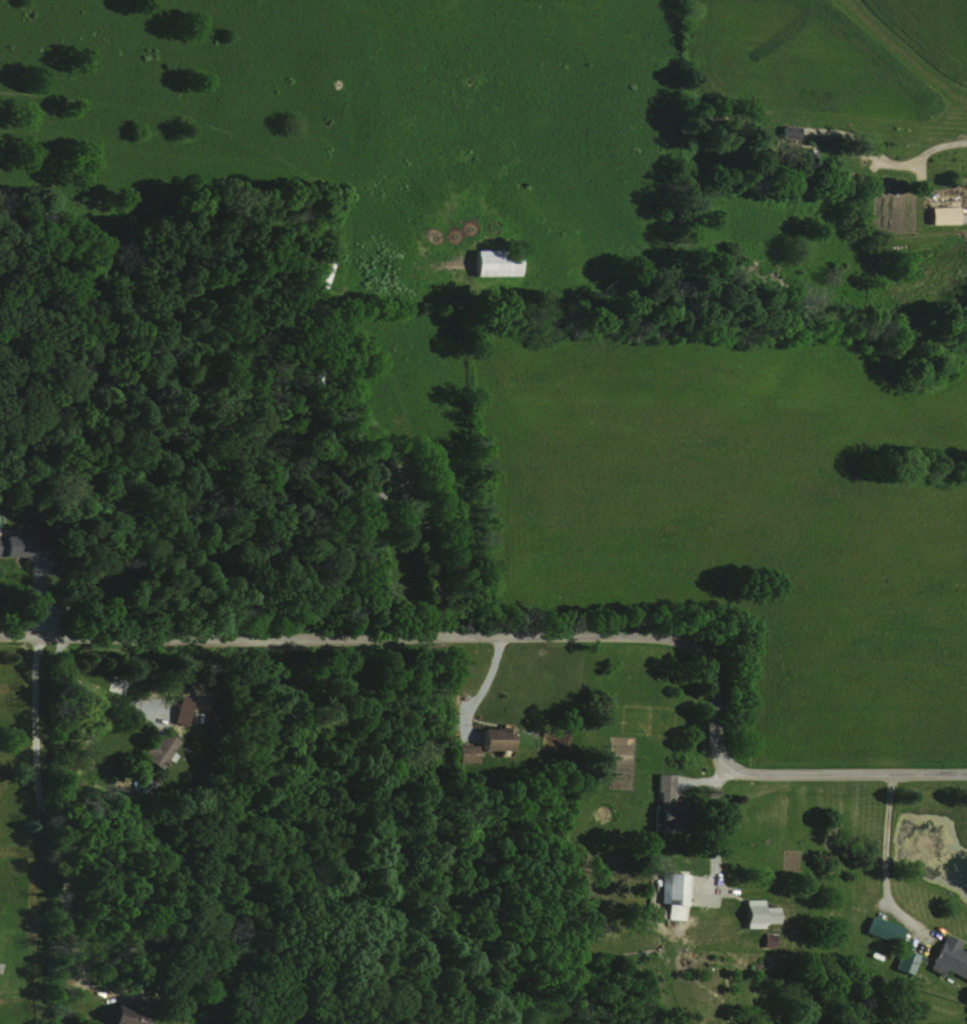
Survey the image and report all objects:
building: (801, 155)
road: (942, 166)
building: (943, 215)
building: (494, 262)
building: (318, 270)
building: (19, 546)
road: (531, 635)
building: (494, 739)
building: (158, 750)
building: (465, 753)
building: (664, 806)
road: (52, 813)
road: (714, 829)
road: (884, 859)
building: (672, 895)
building: (758, 914)
building: (881, 930)
building: (949, 958)
building: (905, 962)
building: (121, 1016)

